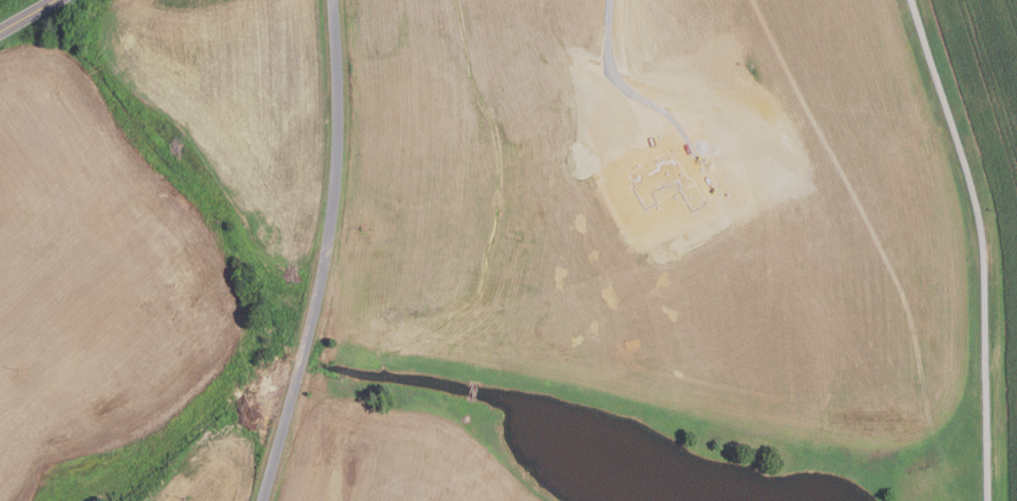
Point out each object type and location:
road: (29, 16)
road: (588, 28)
road: (656, 139)
building: (669, 182)
road: (982, 245)
road: (327, 254)

